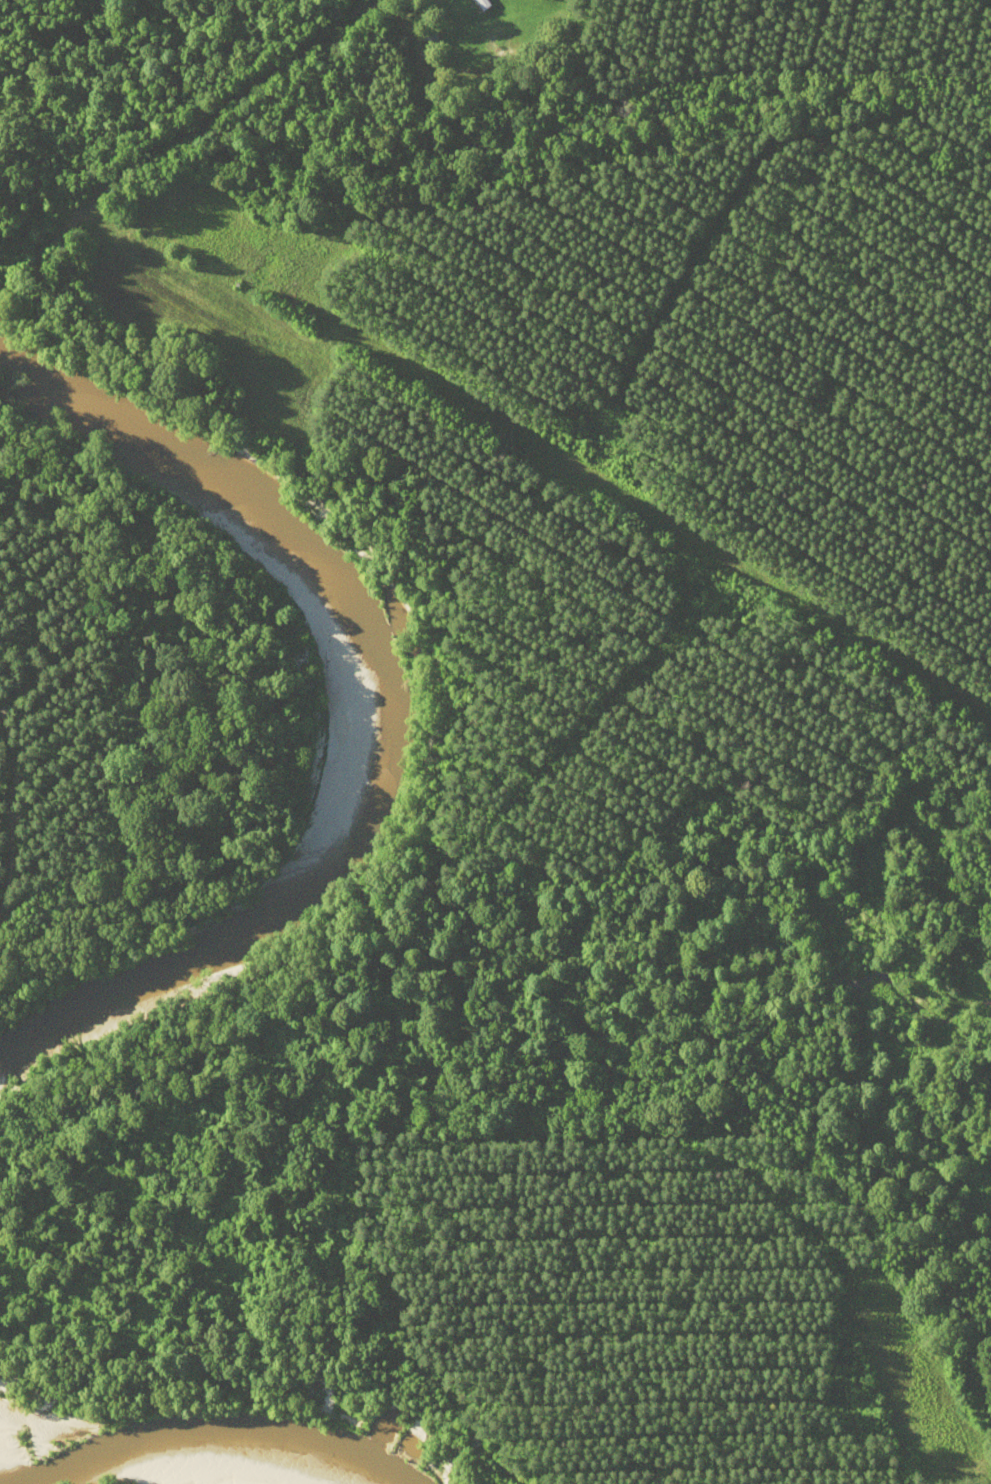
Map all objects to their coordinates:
building: (483, 5)
road: (214, 139)

